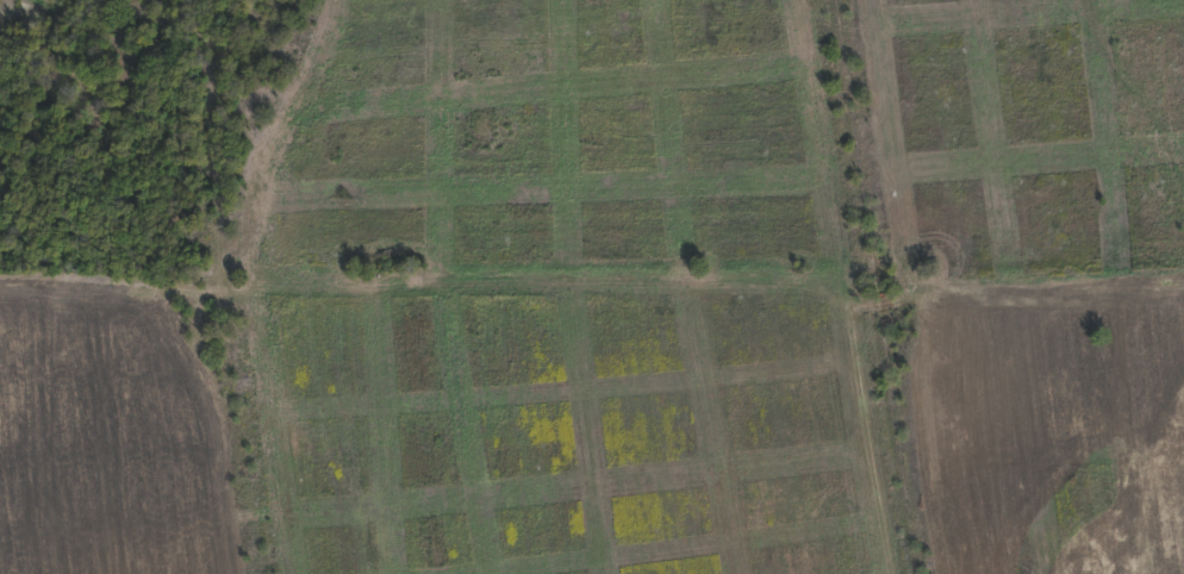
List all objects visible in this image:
park: (95, 139)

